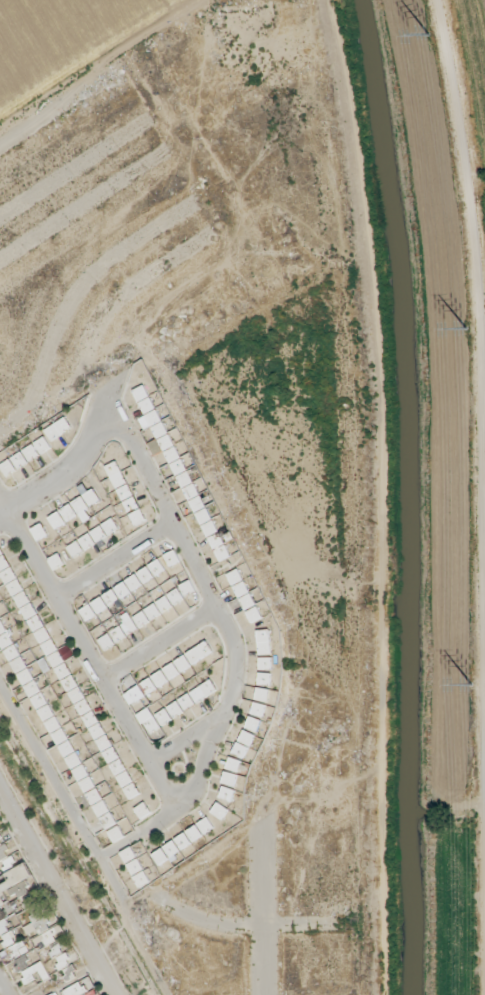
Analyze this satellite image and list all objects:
power tower: (428, 37)
crop: (62, 40)
road: (479, 308)
power tower: (463, 331)
road: (63, 474)
road: (384, 495)
road: (114, 561)
road: (230, 643)
road: (159, 644)
road: (88, 657)
power tower: (468, 686)
road: (185, 745)
building: (84, 780)
road: (85, 843)
building: (181, 850)
building: (135, 870)
road: (58, 893)
road: (261, 915)
road: (242, 928)
road: (0, 993)

